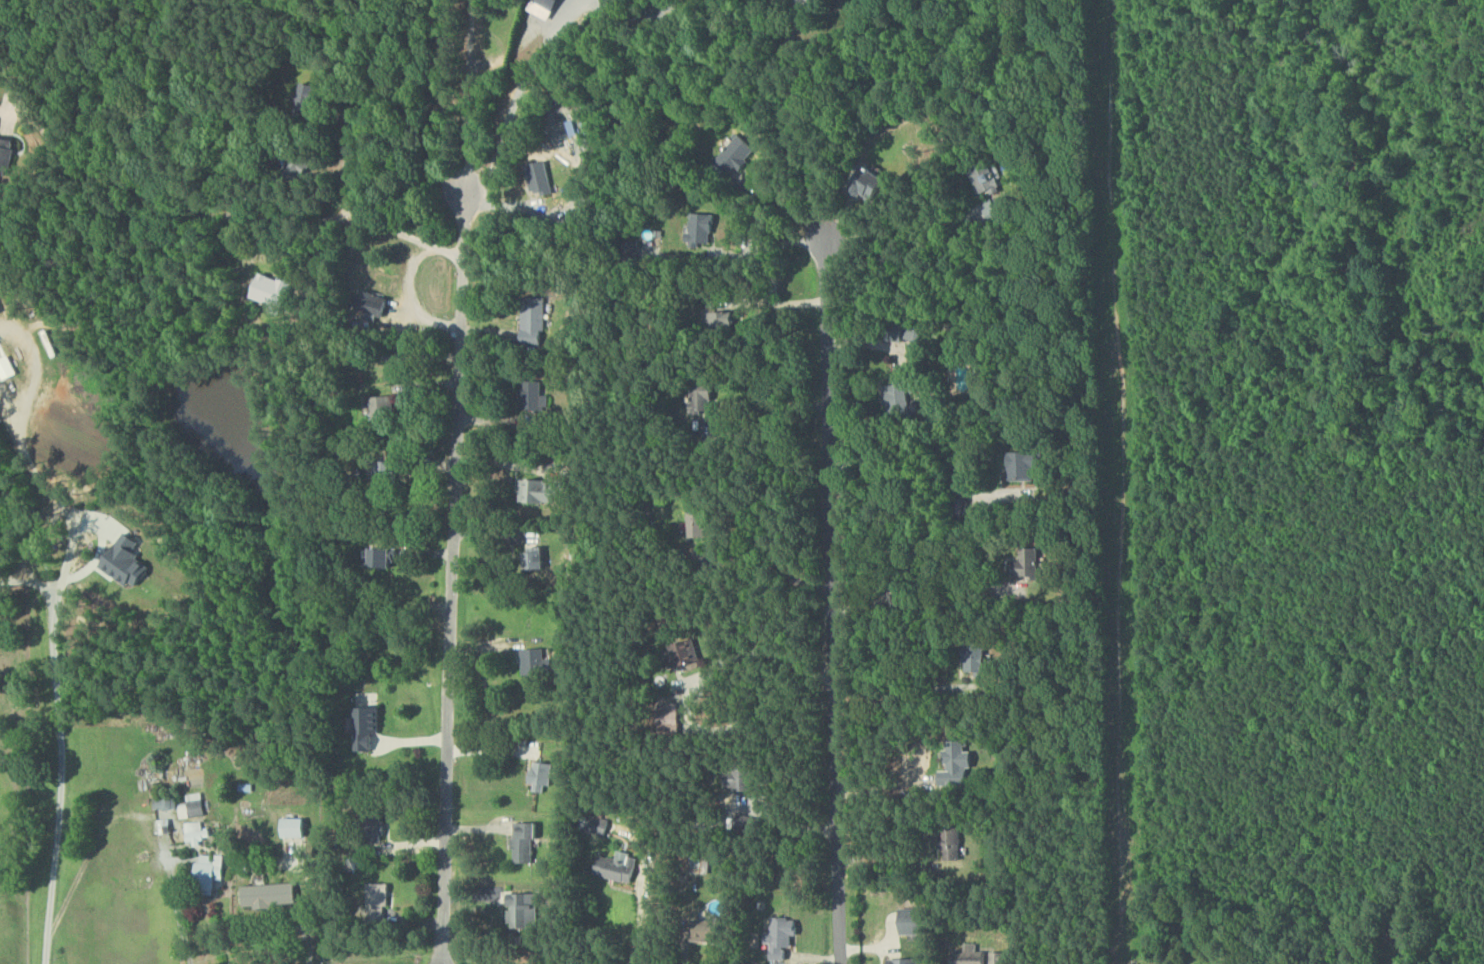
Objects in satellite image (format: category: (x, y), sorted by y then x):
building: (545, 8)
road: (535, 58)
road: (782, 121)
building: (7, 154)
building: (739, 154)
road: (586, 172)
building: (544, 179)
road: (232, 217)
building: (704, 228)
road: (904, 233)
road: (743, 258)
building: (273, 290)
building: (0, 312)
building: (535, 320)
building: (892, 344)
road: (382, 357)
building: (8, 367)
building: (536, 396)
building: (384, 406)
road: (764, 420)
road: (926, 450)
road: (25, 456)
building: (1022, 465)
road: (459, 481)
building: (541, 489)
building: (694, 521)
road: (100, 547)
building: (537, 554)
building: (380, 558)
building: (130, 562)
building: (1019, 566)
road: (908, 568)
road: (25, 582)
road: (839, 602)
building: (684, 653)
building: (977, 659)
building: (539, 662)
road: (695, 686)
road: (905, 692)
building: (957, 763)
building: (543, 775)
road: (65, 777)
building: (166, 803)
building: (195, 806)
road: (788, 823)
building: (297, 828)
building: (197, 833)
building: (528, 841)
road: (889, 858)
road: (88, 859)
building: (621, 867)
building: (212, 870)
building: (271, 896)
road: (311, 901)
building: (382, 901)
road: (176, 905)
building: (525, 911)
road: (634, 921)
building: (916, 922)
building: (714, 932)
building: (783, 938)
building: (983, 956)
building: (908, 961)

